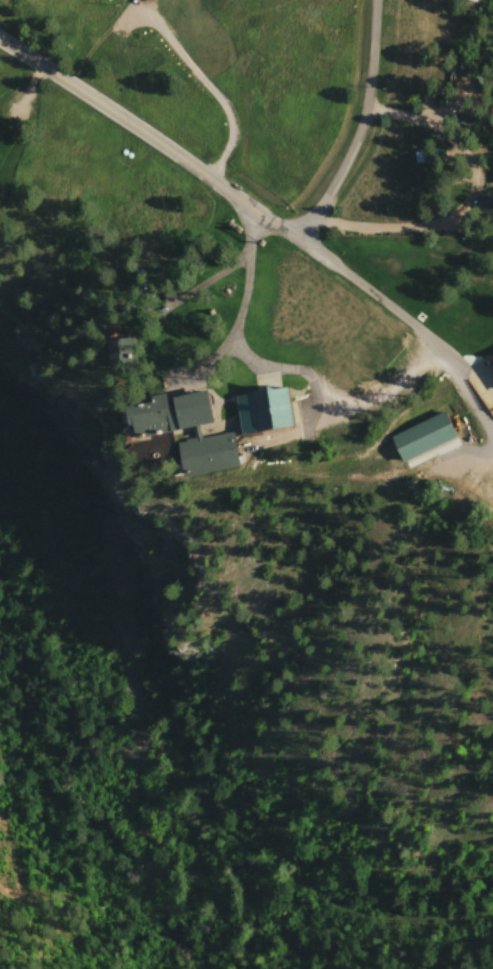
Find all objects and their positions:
building: (158, 2)
road: (205, 90)
road: (29, 96)
road: (360, 129)
road: (148, 144)
building: (430, 162)
building: (492, 166)
road: (470, 209)
building: (486, 213)
road: (188, 292)
road: (371, 297)
road: (238, 318)
building: (109, 357)
building: (492, 359)
road: (314, 387)
road: (467, 396)
road: (378, 401)
building: (260, 414)
building: (217, 435)
building: (429, 441)

